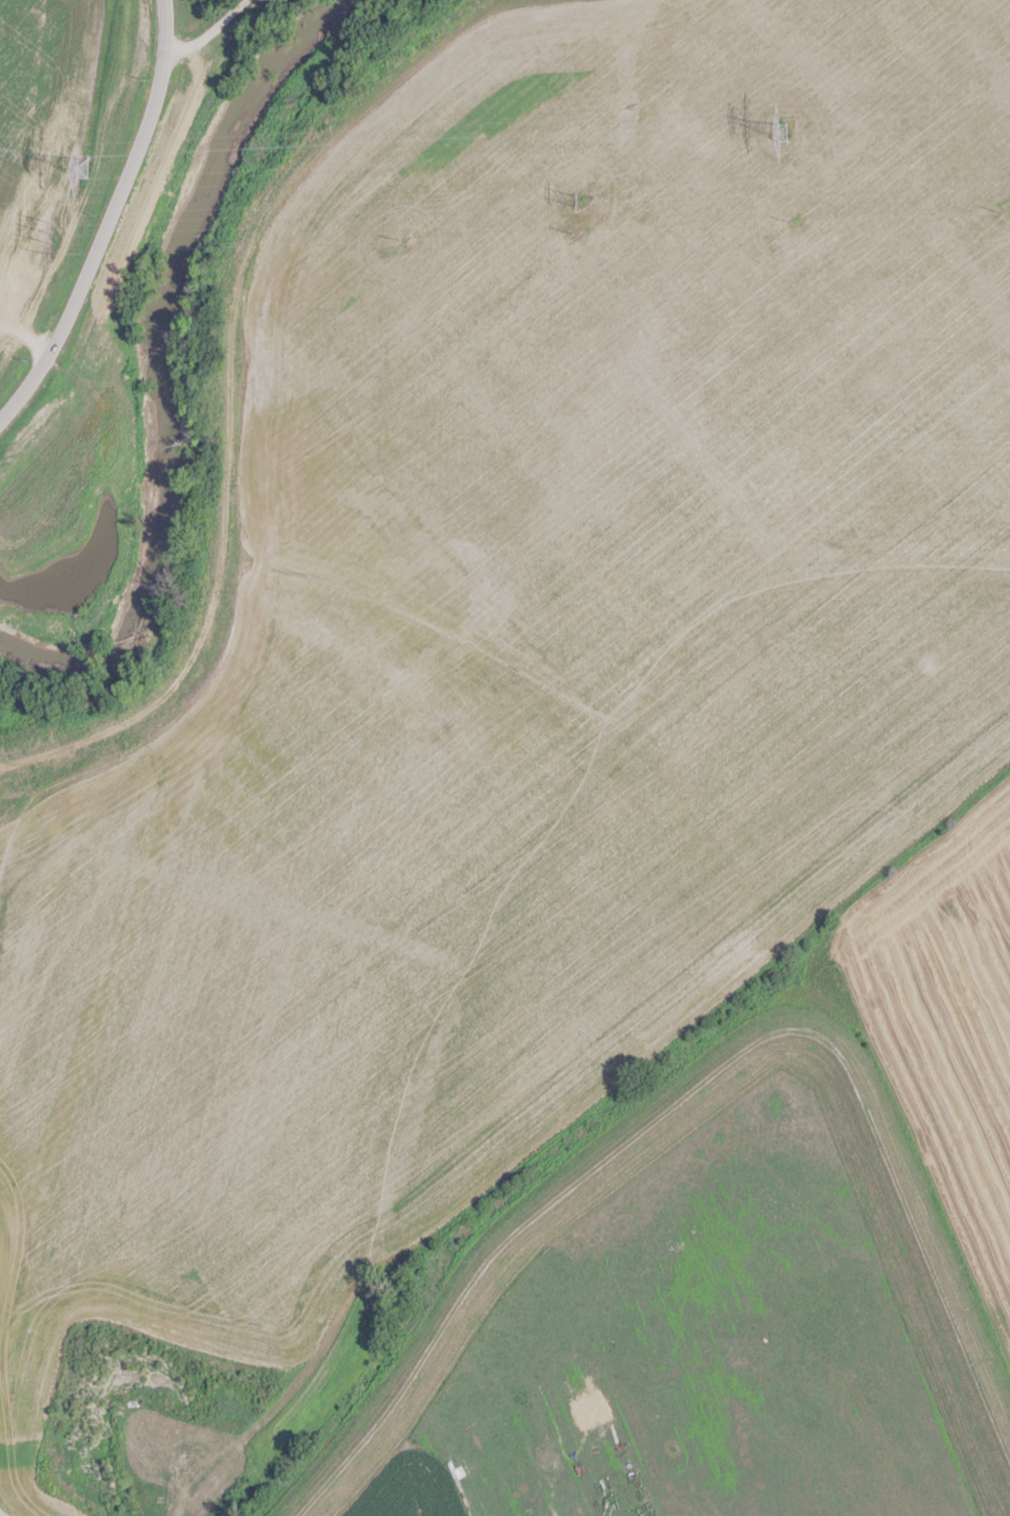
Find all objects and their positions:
road: (164, 28)
road: (207, 34)
power tower: (780, 129)
power tower: (81, 165)
power tower: (576, 200)
power tower: (53, 232)
road: (98, 246)
river: (157, 365)
road: (0, 1515)

